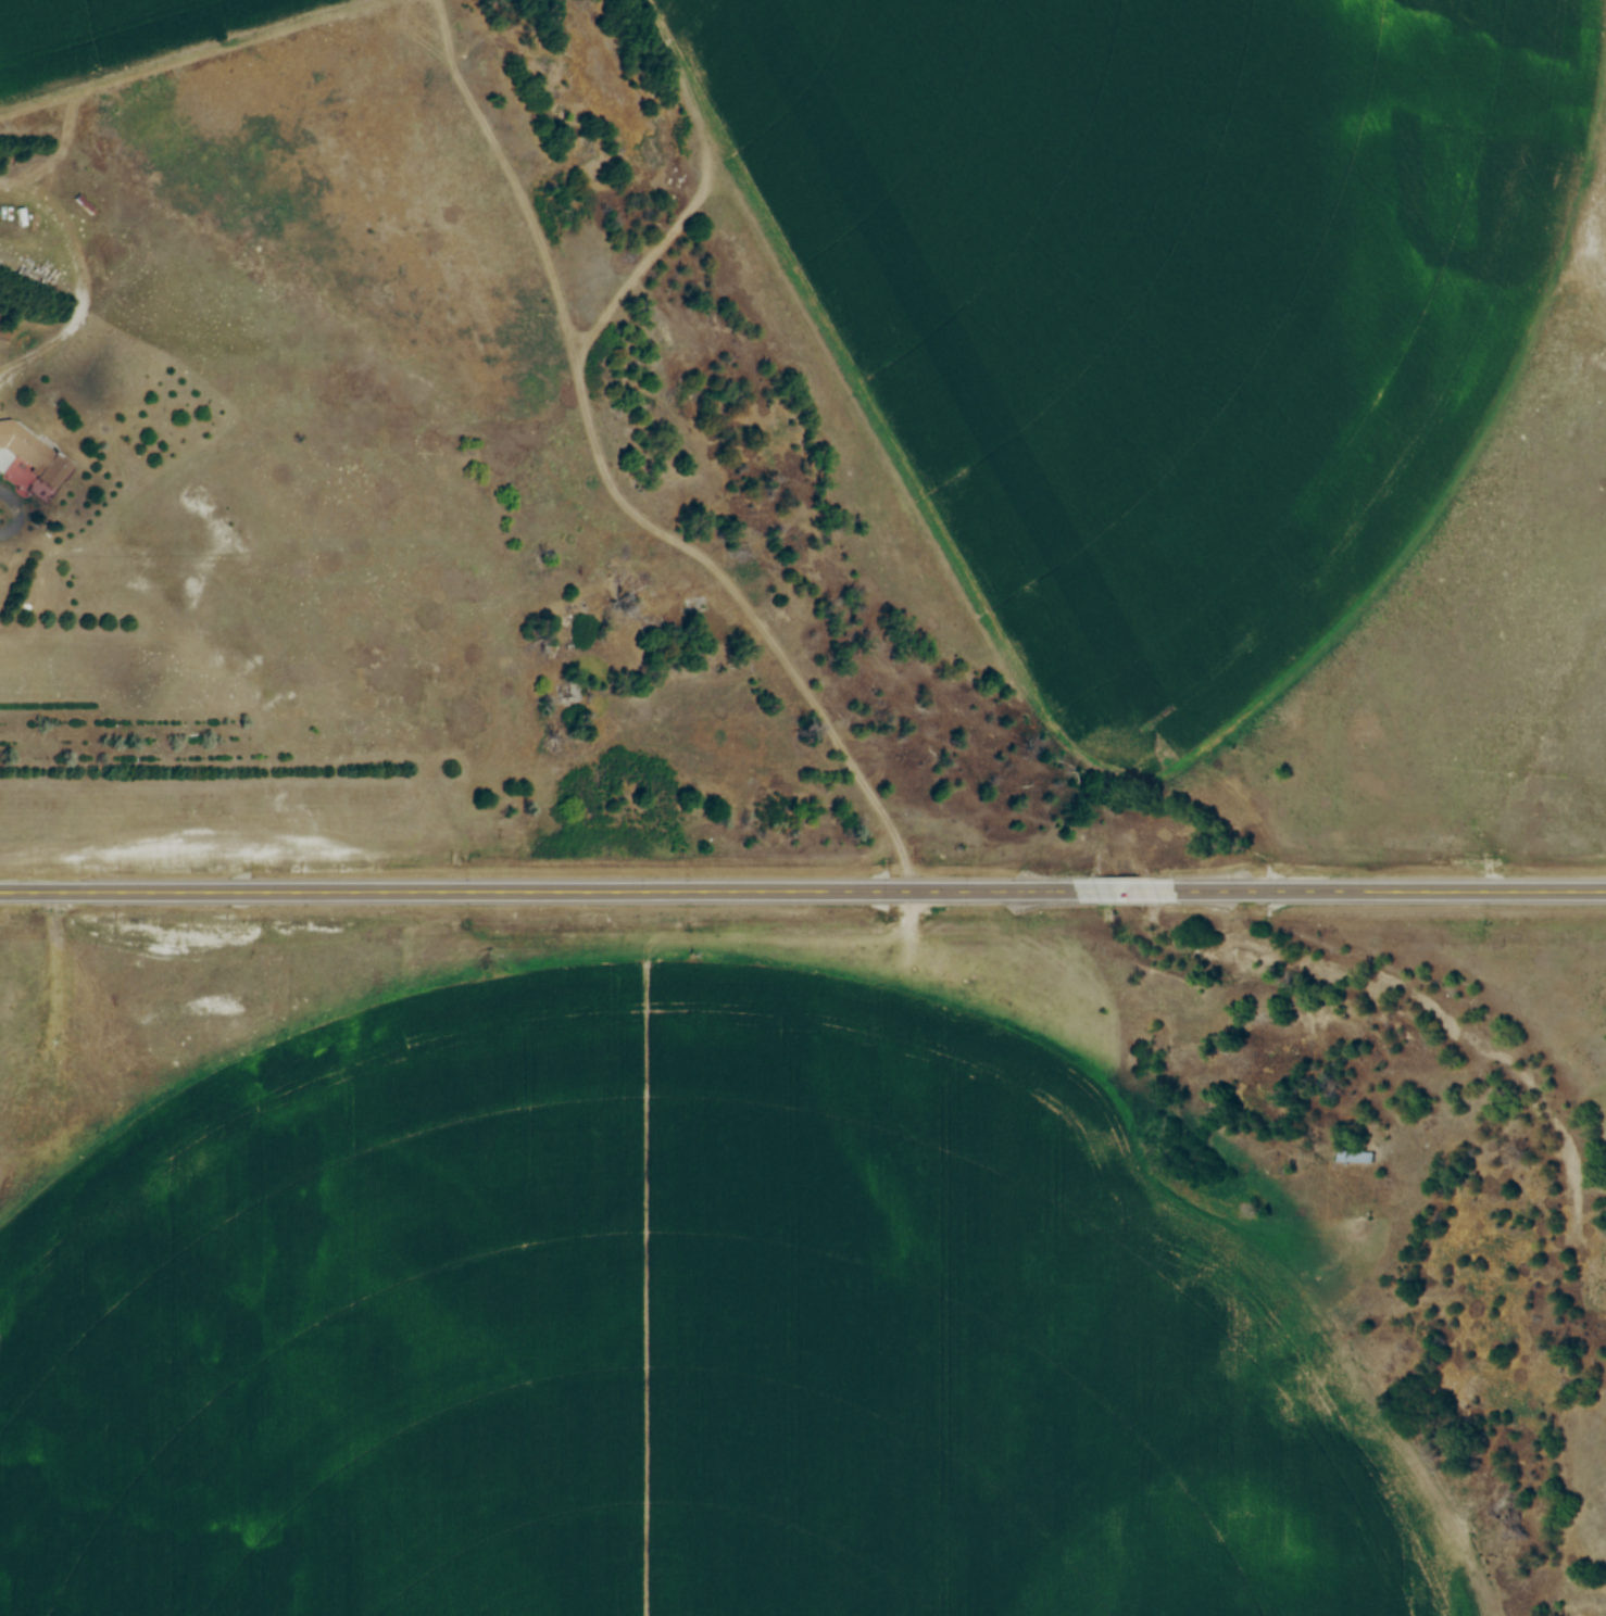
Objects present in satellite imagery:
building: (34, 457)
road: (1393, 889)
road: (540, 891)
road: (1131, 891)
building: (1357, 1158)

